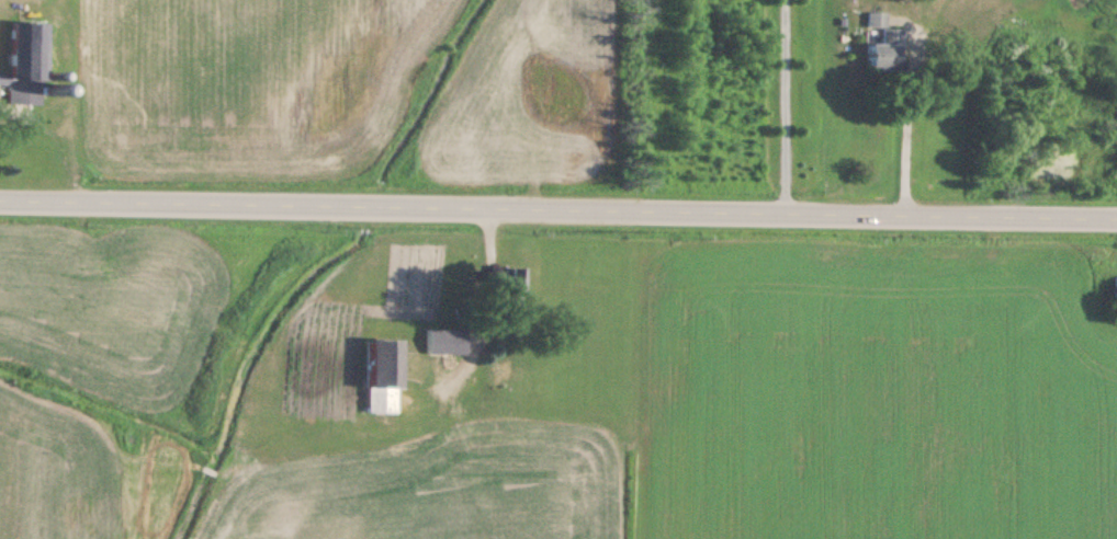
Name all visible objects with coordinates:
building: (884, 51)
building: (27, 64)
road: (781, 106)
road: (904, 133)
road: (558, 208)
road: (484, 289)
building: (514, 289)
building: (1115, 291)
building: (445, 343)
building: (384, 377)

